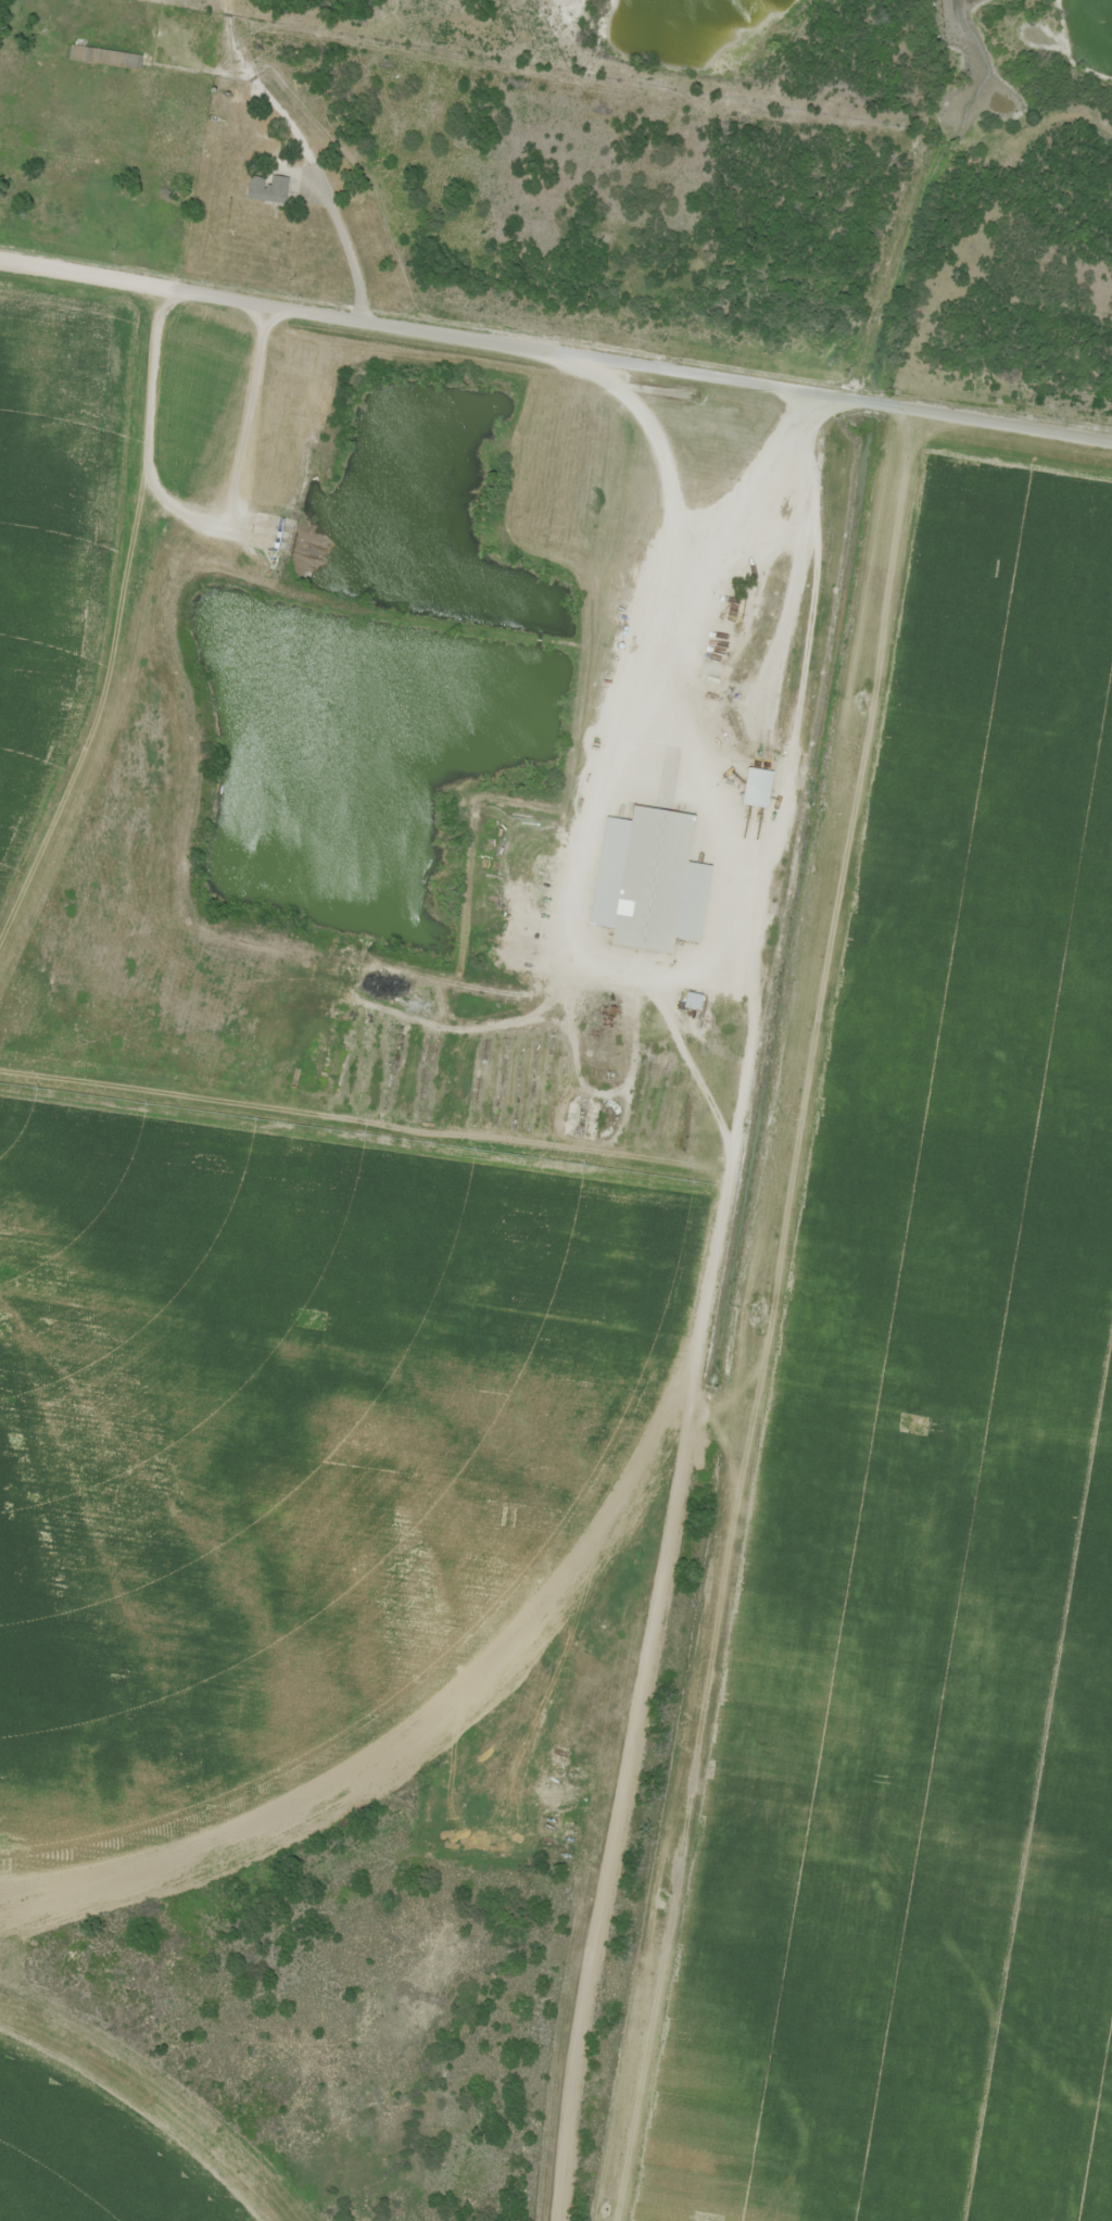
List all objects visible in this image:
building: (104, 58)
building: (267, 189)
road: (139, 198)
railway: (556, 296)
road: (1003, 423)
building: (757, 789)
building: (646, 879)
road: (792, 981)
building: (693, 1002)

